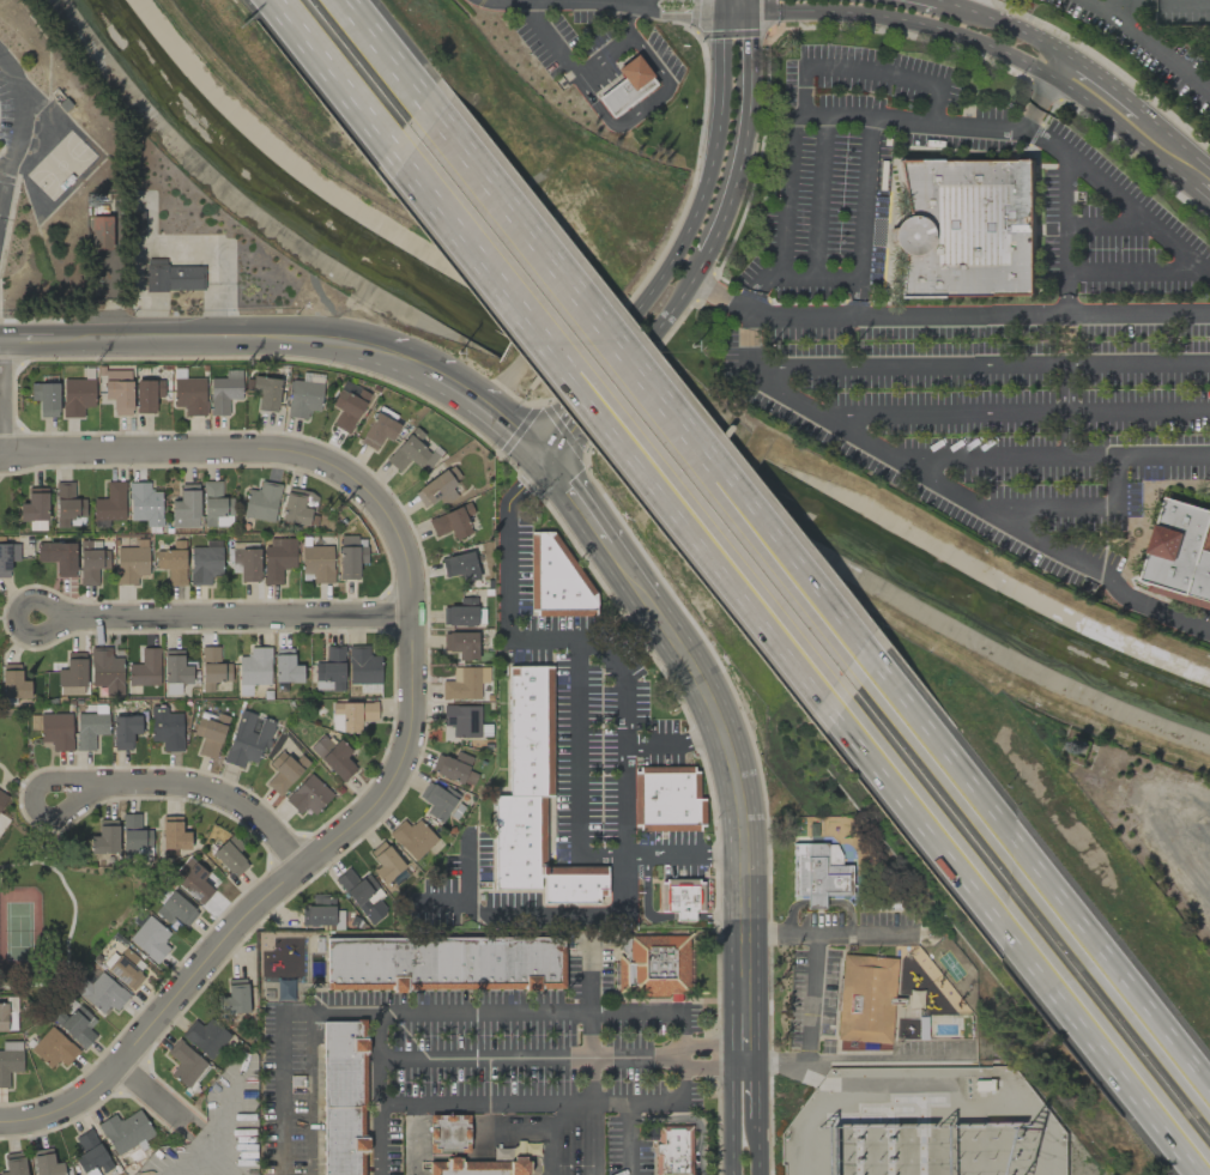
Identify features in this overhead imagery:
traffic signals: (721, 0)
traffic signals: (750, 0)
road: (876, 1)
road: (951, 8)
road: (987, 30)
road: (1152, 44)
road: (380, 53)
road: (325, 66)
road: (865, 69)
building: (625, 86)
road: (22, 113)
road: (846, 119)
road: (623, 125)
road: (744, 131)
road: (709, 166)
road: (2, 175)
road: (2, 187)
building: (135, 223)
building: (967, 226)
building: (99, 231)
road: (863, 243)
road: (1180, 249)
building: (171, 275)
road: (678, 297)
road: (775, 314)
road: (964, 316)
road: (1137, 316)
road: (748, 339)
road: (1064, 341)
road: (195, 347)
road: (980, 367)
building: (117, 390)
building: (224, 390)
building: (265, 392)
building: (77, 394)
building: (146, 394)
building: (189, 395)
building: (44, 398)
building: (303, 398)
road: (470, 398)
building: (347, 405)
road: (661, 411)
road: (1012, 416)
building: (380, 429)
road: (549, 431)
road: (612, 432)
road: (561, 443)
road: (867, 446)
building: (410, 453)
traffic signals: (544, 454)
building: (437, 487)
road: (580, 498)
building: (109, 502)
building: (261, 502)
building: (144, 504)
building: (214, 504)
building: (67, 505)
building: (184, 507)
building: (297, 507)
building: (34, 509)
building: (452, 522)
building: (1181, 555)
building: (350, 556)
building: (7, 557)
building: (58, 557)
building: (277, 558)
building: (90, 561)
building: (131, 562)
building: (171, 562)
building: (204, 562)
building: (316, 562)
building: (248, 564)
building: (459, 565)
building: (552, 571)
road: (634, 571)
road: (1100, 573)
building: (460, 613)
road: (56, 616)
road: (234, 616)
building: (460, 644)
building: (285, 666)
building: (175, 667)
building: (145, 668)
building: (212, 668)
building: (362, 668)
building: (253, 670)
building: (329, 670)
building: (72, 671)
building: (105, 671)
road: (622, 672)
building: (13, 682)
building: (464, 683)
road: (579, 699)
road: (407, 709)
building: (351, 715)
building: (461, 720)
building: (165, 728)
building: (53, 729)
building: (89, 729)
building: (123, 732)
building: (208, 733)
building: (247, 738)
building: (333, 756)
building: (452, 767)
building: (284, 771)
road: (624, 780)
road: (201, 787)
road: (73, 789)
building: (307, 795)
building: (1, 797)
building: (532, 799)
building: (666, 799)
building: (436, 800)
road: (742, 817)
road: (1158, 823)
building: (173, 836)
building: (104, 837)
building: (134, 838)
building: (411, 838)
building: (230, 858)
building: (385, 862)
building: (819, 873)
building: (192, 880)
road: (1209, 892)
building: (362, 896)
road: (645, 897)
building: (678, 898)
road: (1058, 907)
building: (175, 910)
building: (322, 913)
road: (683, 917)
road: (718, 917)
road: (573, 919)
park: (25, 929)
building: (149, 937)
road: (1023, 953)
building: (443, 963)
building: (653, 965)
building: (123, 969)
building: (99, 992)
road: (813, 995)
building: (234, 997)
building: (864, 998)
road: (421, 1010)
building: (7, 1013)
building: (75, 1023)
building: (202, 1036)
building: (52, 1048)
road: (712, 1054)
road: (587, 1056)
building: (8, 1060)
building: (183, 1062)
road: (754, 1088)
road: (155, 1096)
road: (639, 1100)
road: (455, 1101)
road: (730, 1113)
road: (823, 1113)
power substation: (921, 1125)
building: (125, 1131)
building: (448, 1133)
road: (377, 1139)
building: (672, 1150)
road: (755, 1150)
building: (90, 1155)
building: (44, 1163)
building: (13, 1164)
building: (477, 1167)

